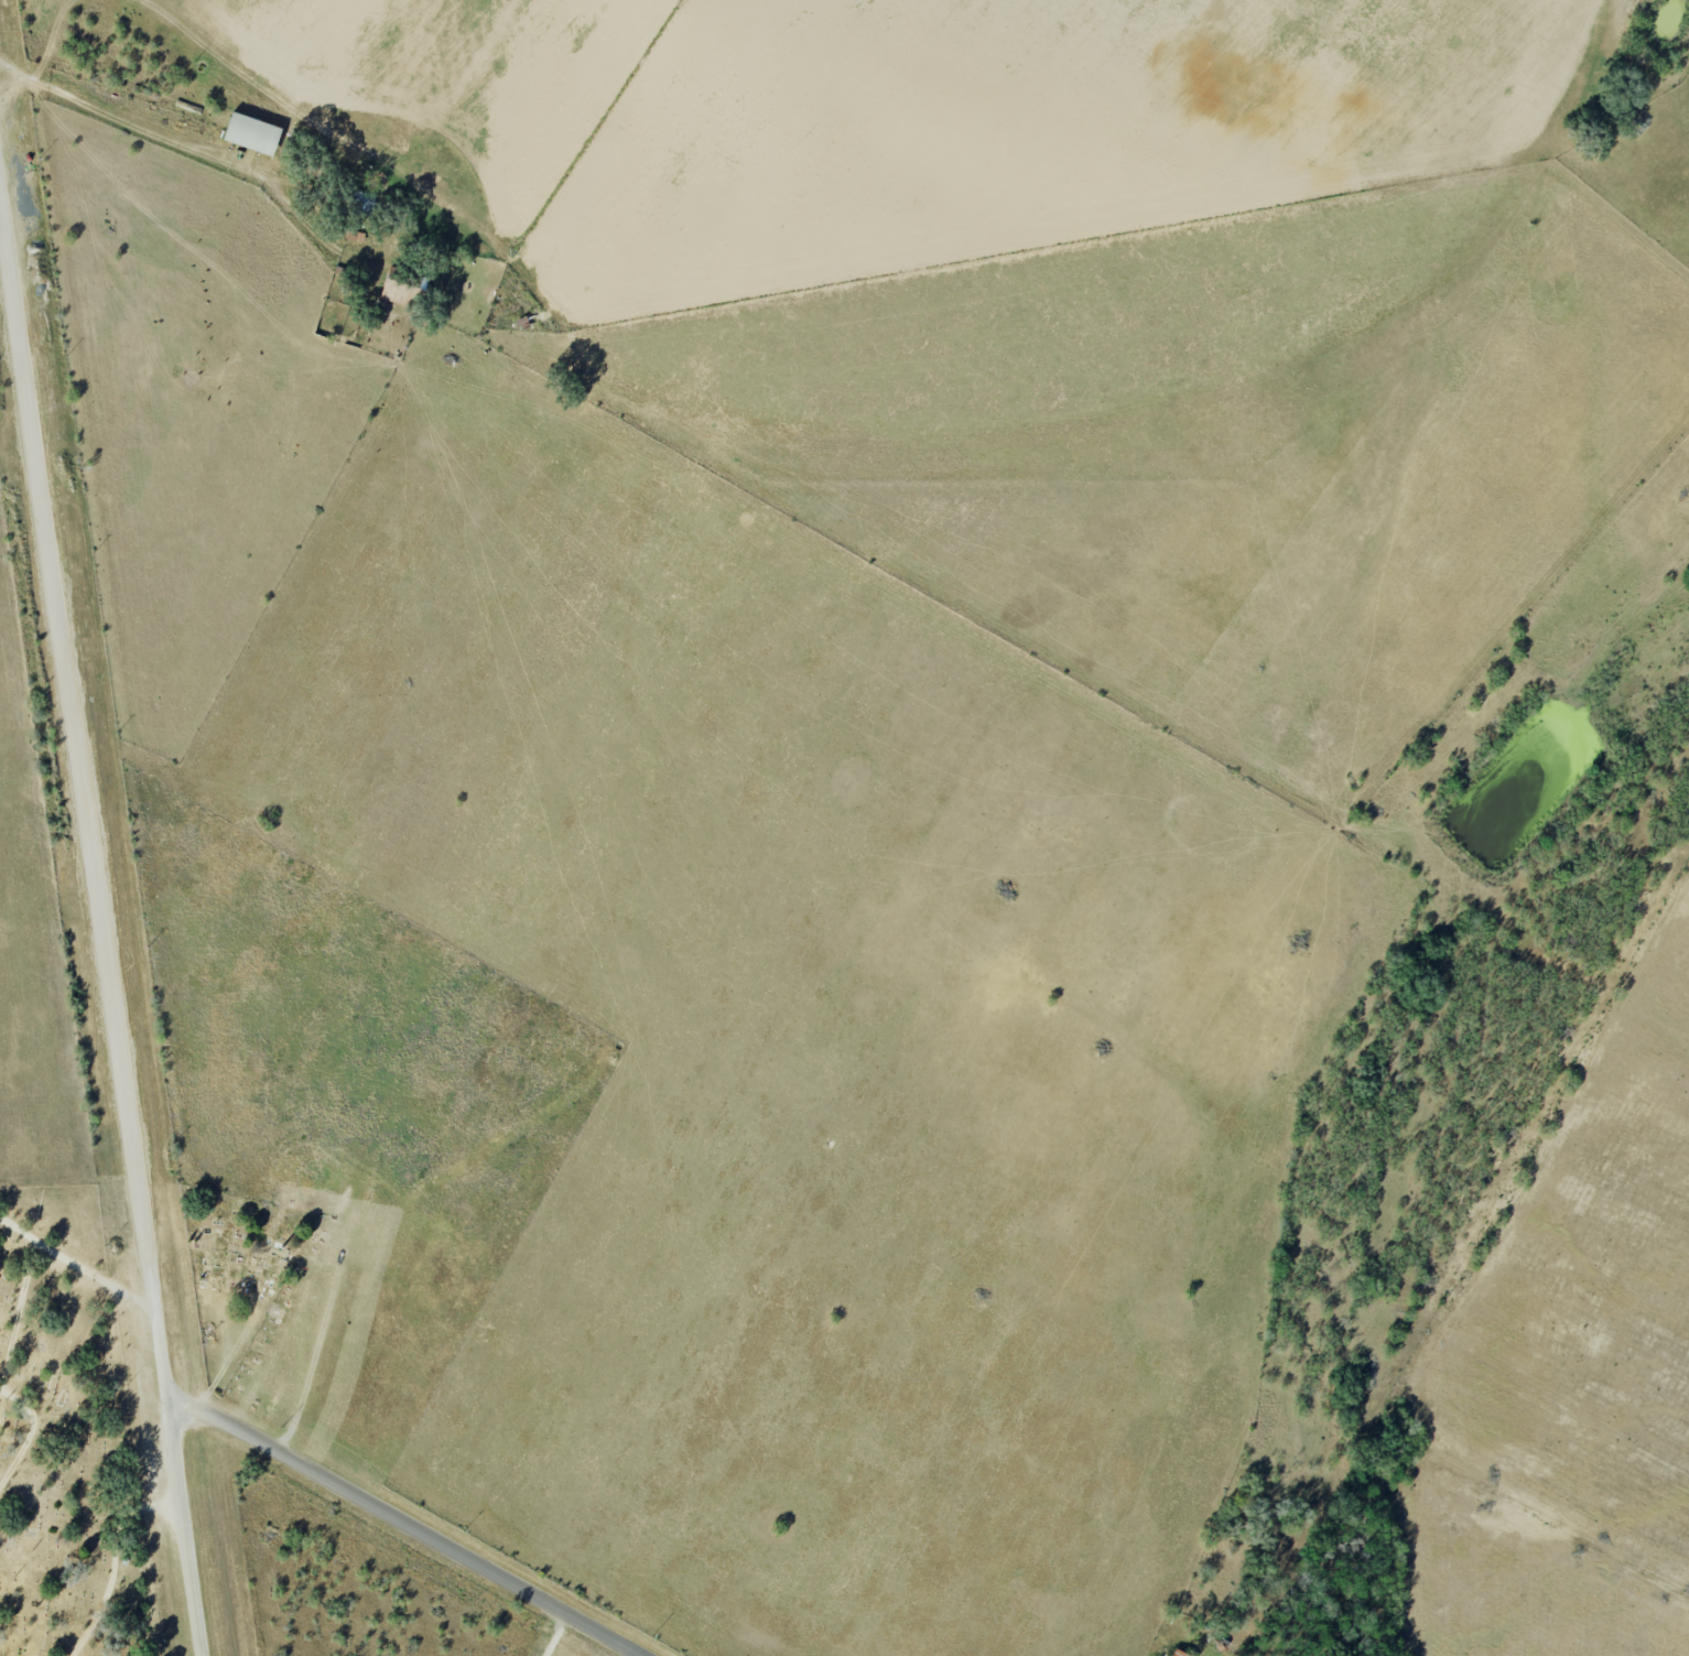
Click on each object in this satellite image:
road: (145, 122)
building: (252, 134)
road: (101, 877)
road: (78, 1258)
park: (241, 1270)
road: (20, 1310)
road: (228, 1419)
road: (32, 1429)
park: (68, 1460)
road: (116, 1551)
road: (465, 1551)
building: (126, 1555)
road: (149, 1579)
road: (559, 1633)
building: (1180, 1653)

